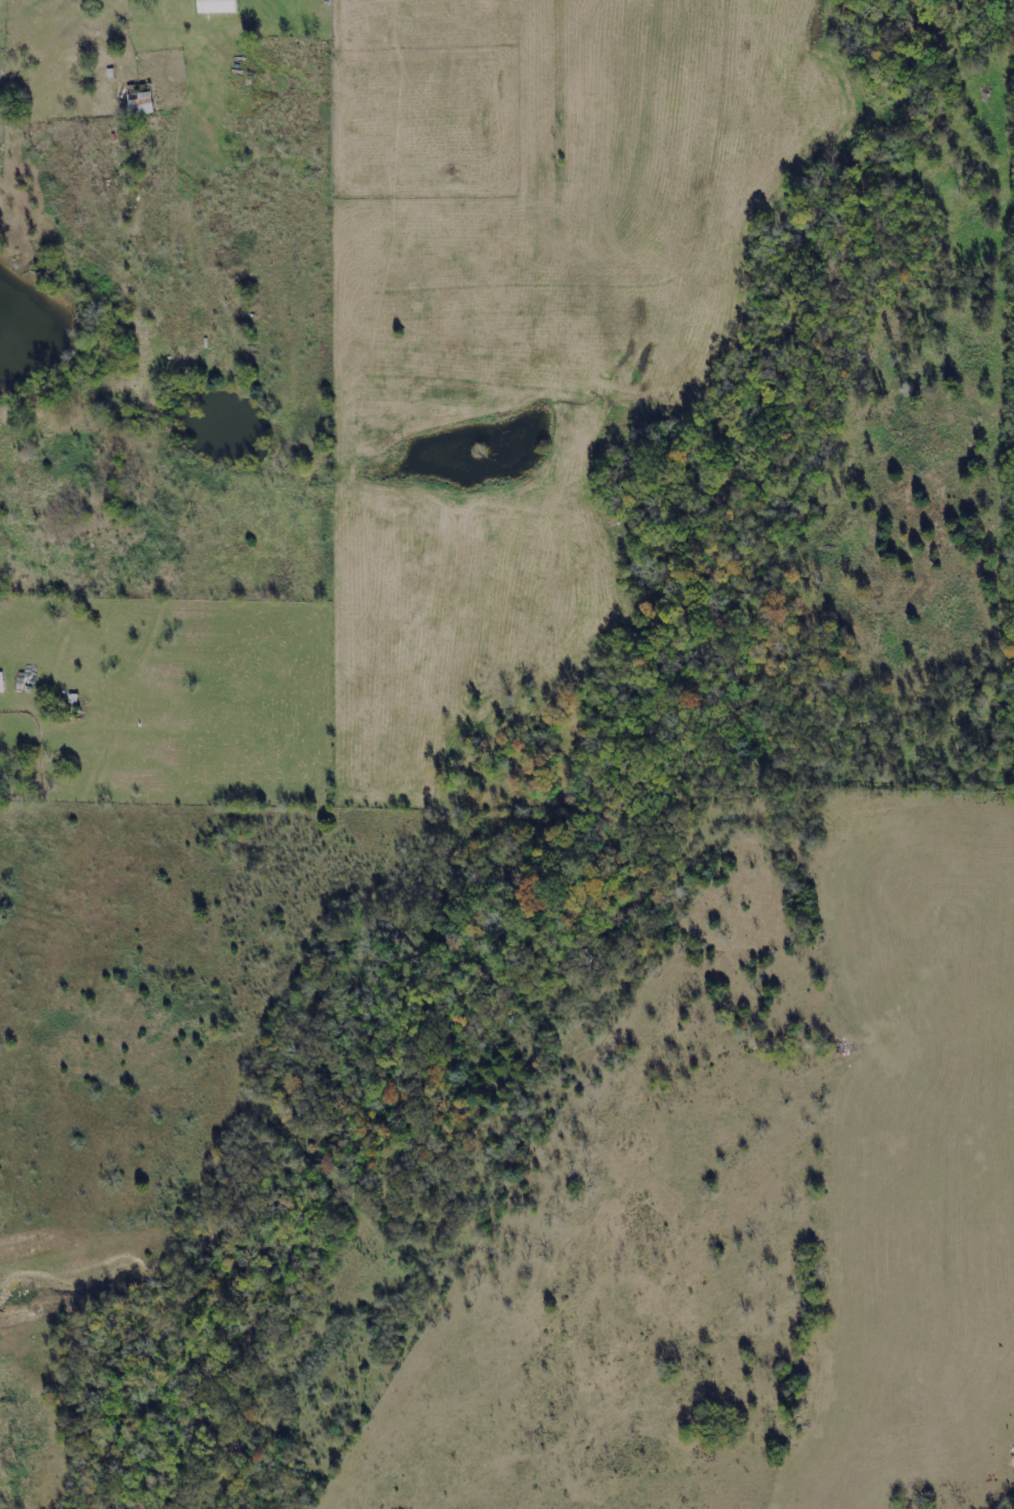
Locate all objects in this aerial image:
building: (215, 7)
building: (138, 104)
building: (0, 685)

